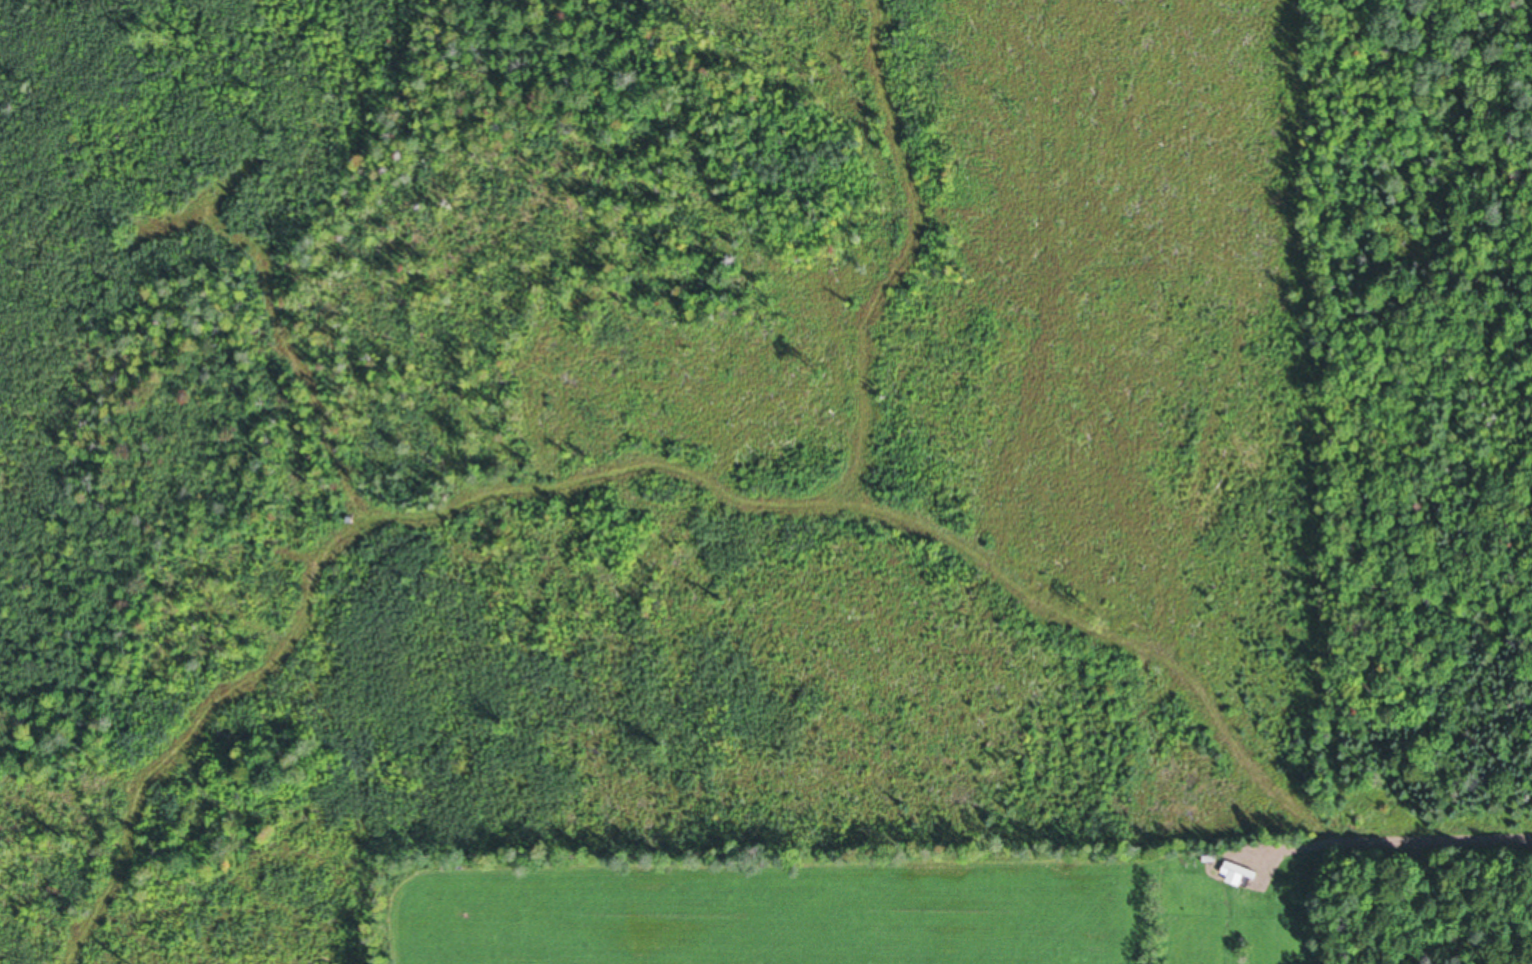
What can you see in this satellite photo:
road: (1386, 855)

